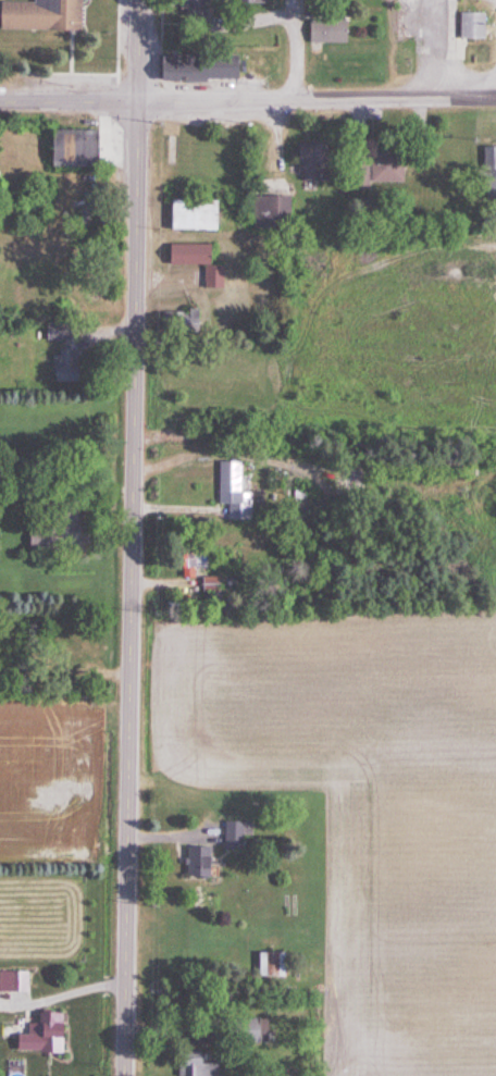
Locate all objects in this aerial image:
building: (253, 1)
building: (194, 9)
building: (40, 15)
building: (471, 26)
building: (326, 33)
road: (303, 49)
building: (196, 67)
road: (247, 99)
building: (71, 148)
building: (308, 163)
building: (375, 171)
building: (489, 171)
building: (271, 214)
building: (193, 217)
building: (196, 263)
building: (179, 323)
building: (64, 367)
building: (200, 426)
building: (230, 490)
building: (52, 517)
road: (138, 537)
building: (191, 562)
building: (210, 584)
building: (236, 833)
building: (196, 861)
building: (269, 964)
building: (246, 1030)
building: (40, 1035)
building: (194, 1065)

